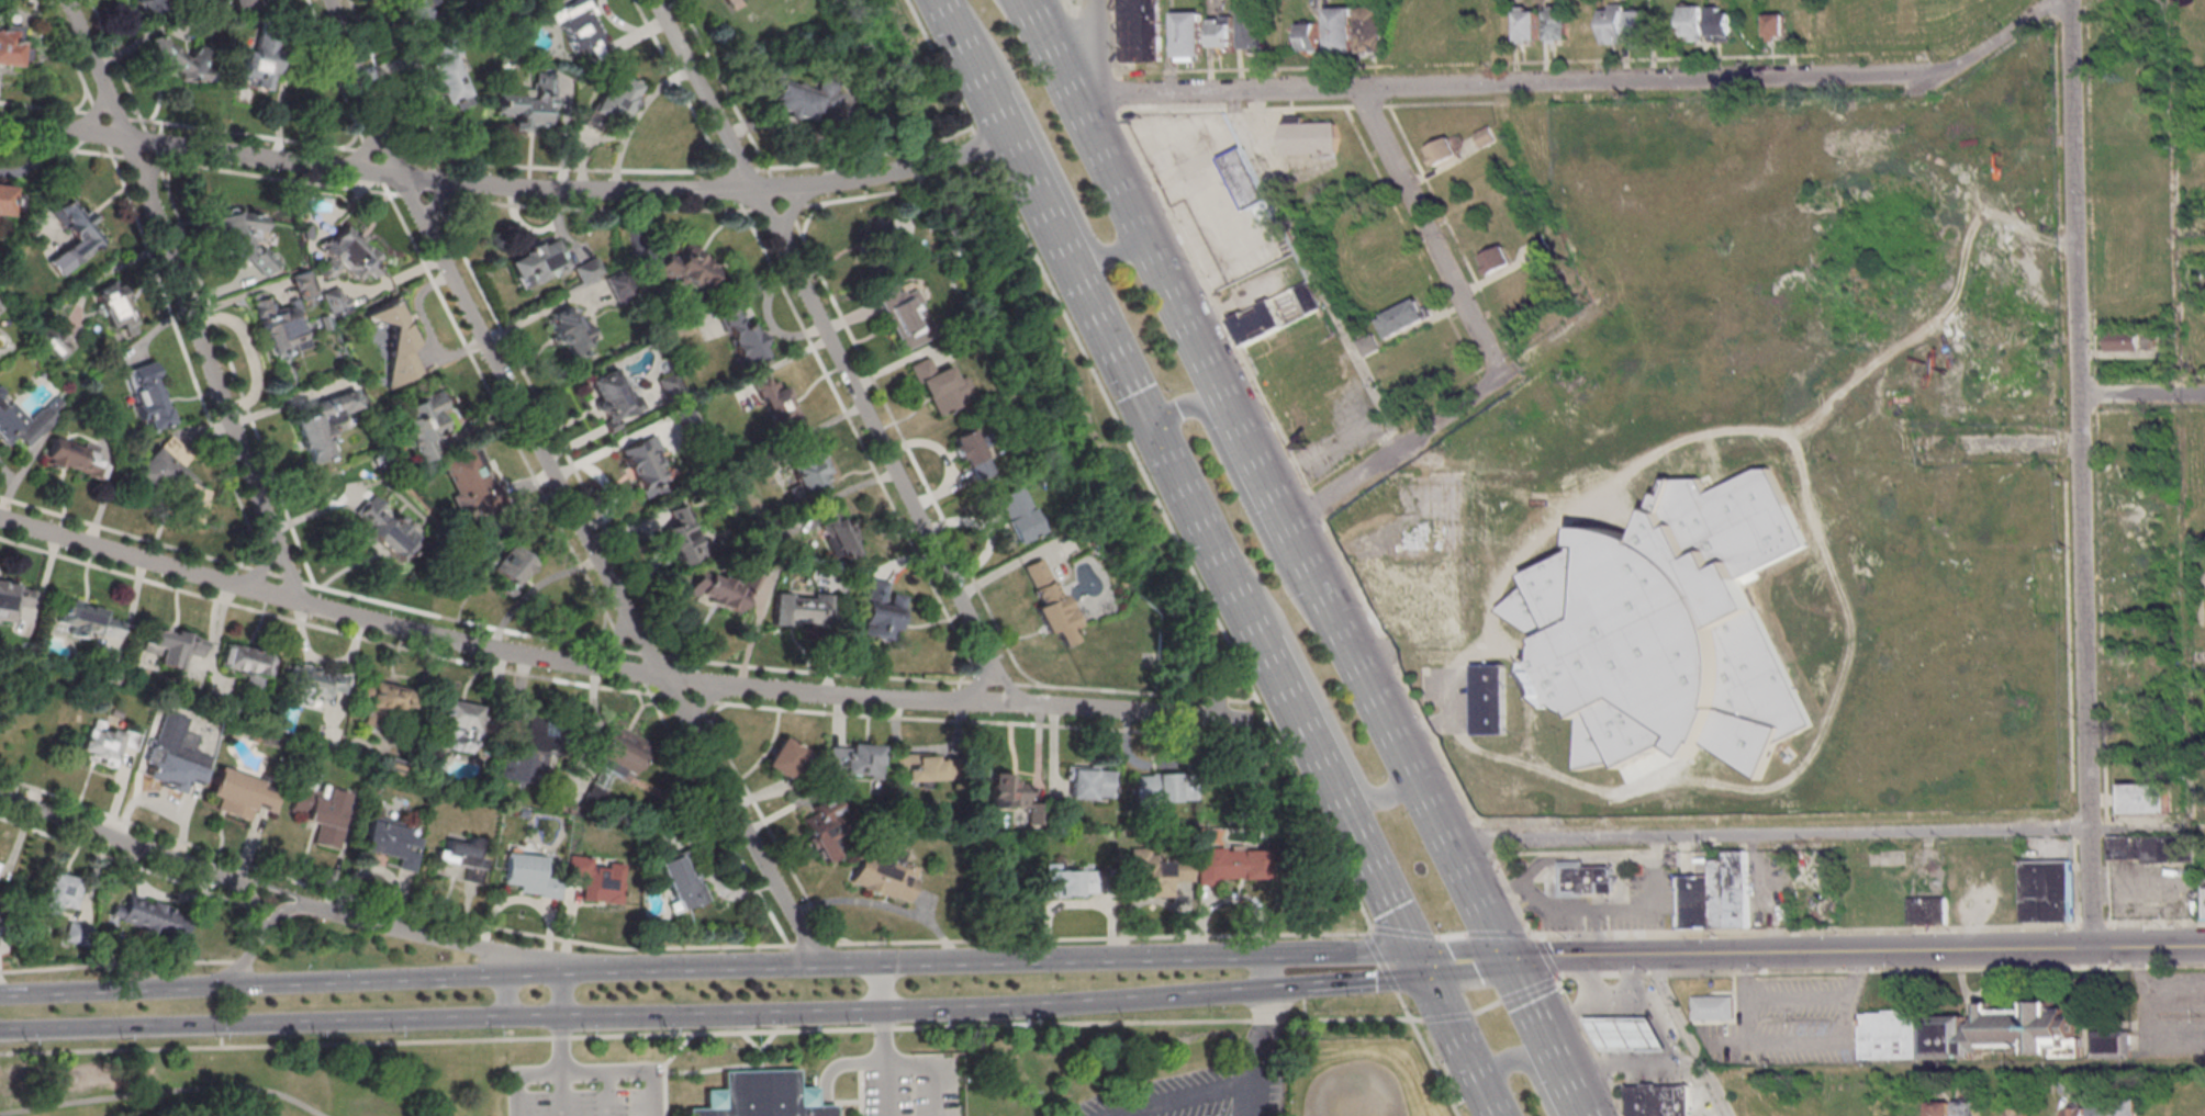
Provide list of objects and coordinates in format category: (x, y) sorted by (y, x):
building: (240, 1)
parking lot: (1071, 1)
building: (150, 7)
building: (414, 12)
road: (1023, 18)
building: (1529, 23)
building: (1558, 24)
building: (1692, 24)
building: (1721, 24)
building: (1376, 26)
building: (1613, 26)
building: (579, 27)
building: (1344, 27)
building: (1641, 27)
building: (1778, 27)
building: (1143, 30)
building: (1256, 30)
building: (1225, 32)
road: (2004, 34)
building: (1195, 35)
building: (1312, 37)
building: (10, 45)
road: (1092, 49)
building: (180, 60)
building: (260, 64)
road: (938, 64)
building: (449, 79)
road: (1648, 81)
road: (1212, 91)
road: (704, 93)
building: (617, 97)
building: (808, 101)
building: (528, 103)
road: (1079, 112)
road: (85, 117)
building: (1313, 138)
building: (1487, 138)
road: (977, 143)
road: (1042, 145)
road: (366, 153)
building: (1443, 153)
road: (910, 166)
road: (156, 167)
road: (377, 173)
building: (1244, 180)
road: (784, 185)
parking lot: (1207, 194)
building: (5, 199)
road: (432, 203)
road: (792, 205)
road: (768, 211)
road: (1046, 217)
road: (1428, 228)
building: (74, 234)
building: (245, 238)
building: (1542, 247)
road: (1189, 252)
building: (349, 255)
building: (1496, 261)
building: (537, 262)
building: (689, 267)
building: (587, 270)
road: (1313, 272)
building: (302, 285)
building: (334, 300)
road: (184, 304)
building: (0, 308)
building: (1277, 315)
building: (907, 318)
building: (1402, 322)
building: (570, 330)
building: (282, 331)
building: (741, 336)
building: (55, 342)
building: (394, 343)
building: (1370, 343)
building: (2124, 343)
road: (1212, 376)
building: (668, 383)
building: (940, 386)
road: (2141, 395)
building: (148, 396)
building: (612, 396)
building: (776, 403)
building: (423, 421)
building: (21, 425)
building: (322, 425)
traffic signals: (1155, 436)
road: (886, 449)
road: (1395, 450)
building: (971, 453)
building: (76, 456)
building: (643, 465)
building: (806, 470)
road: (2079, 474)
building: (469, 477)
building: (170, 478)
road: (559, 488)
road: (1186, 496)
road: (1249, 510)
building: (1018, 515)
building: (384, 527)
building: (837, 533)
building: (676, 534)
building: (1452, 534)
road: (1178, 544)
road: (261, 562)
building: (511, 565)
building: (720, 588)
building: (14, 598)
building: (1049, 601)
building: (1411, 607)
building: (802, 610)
building: (882, 610)
building: (86, 619)
building: (1671, 629)
road: (473, 639)
road: (614, 640)
road: (1347, 646)
building: (169, 647)
building: (246, 663)
building: (2134, 673)
building: (315, 683)
road: (1006, 683)
road: (978, 684)
road: (1314, 691)
road: (988, 698)
road: (704, 700)
building: (1490, 701)
building: (383, 702)
road: (1123, 709)
building: (460, 715)
road: (1263, 717)
road: (1422, 721)
building: (104, 742)
building: (170, 751)
building: (617, 753)
building: (527, 754)
building: (784, 758)
building: (855, 759)
road: (1318, 762)
building: (921, 766)
building: (1088, 782)
building: (1162, 787)
building: (1005, 790)
building: (240, 793)
building: (2149, 797)
road: (1425, 803)
building: (322, 812)
road: (2139, 826)
building: (827, 830)
road: (1765, 832)
park: (1277, 834)
road: (119, 835)
building: (391, 842)
building: (2156, 852)
building: (461, 858)
building: (1228, 865)
building: (1156, 873)
building: (529, 876)
building: (884, 876)
building: (597, 879)
building: (1068, 881)
building: (1586, 881)
building: (682, 882)
road: (275, 889)
building: (2047, 891)
building: (58, 892)
building: (1715, 894)
building: (2204, 897)
road: (1474, 899)
road: (883, 906)
road: (283, 911)
building: (1927, 911)
building: (149, 916)
road: (1869, 926)
building: (75, 933)
road: (257, 936)
road: (1452, 936)
road: (436, 938)
road: (673, 947)
road: (1342, 951)
road: (1854, 952)
road: (1546, 956)
traffic signals: (1503, 959)
road: (1462, 962)
road: (115, 963)
road: (843, 963)
traffic signals: (1421, 966)
road: (1880, 970)
road: (1267, 971)
road: (1388, 977)
road: (1364, 981)
road: (212, 989)
road: (884, 989)
road: (1277, 989)
road: (1529, 990)
road: (1157, 997)
road: (561, 1000)
road: (505, 1002)
building: (1712, 1007)
road: (1486, 1008)
road: (1303, 1010)
parking lot: (2168, 1014)
road: (790, 1017)
road: (1447, 1018)
road: (1415, 1021)
road: (1263, 1026)
road: (257, 1028)
road: (1453, 1029)
road: (704, 1032)
building: (1967, 1033)
road: (1687, 1036)
road: (1544, 1037)
building: (1626, 1038)
road: (749, 1041)
building: (2112, 1045)
road: (761, 1046)
road: (1591, 1046)
road: (864, 1063)
road: (937, 1063)
road: (1524, 1063)
road: (1955, 1066)
road: (758, 1067)
road: (663, 1068)
road: (1432, 1068)
road: (562, 1069)
road: (710, 1069)
road: (1672, 1069)
park: (757, 1071)
road: (587, 1072)
park: (1208, 1081)
parking lot: (914, 1089)
road: (1249, 1089)
parking lot: (586, 1090)
road: (888, 1090)
road: (161, 1091)
road: (859, 1092)
road: (607, 1094)
building: (759, 1095)
parking lot: (1196, 1095)
road: (1182, 1098)
building: (1658, 1101)
road: (844, 1102)
road: (1491, 1105)
building: (1967, 1107)
building: (1940, 1108)
building: (2128, 1108)
building: (2018, 1111)
building: (2074, 1111)
building: (2101, 1111)
building: (2180, 1111)
building: (1809, 1113)

